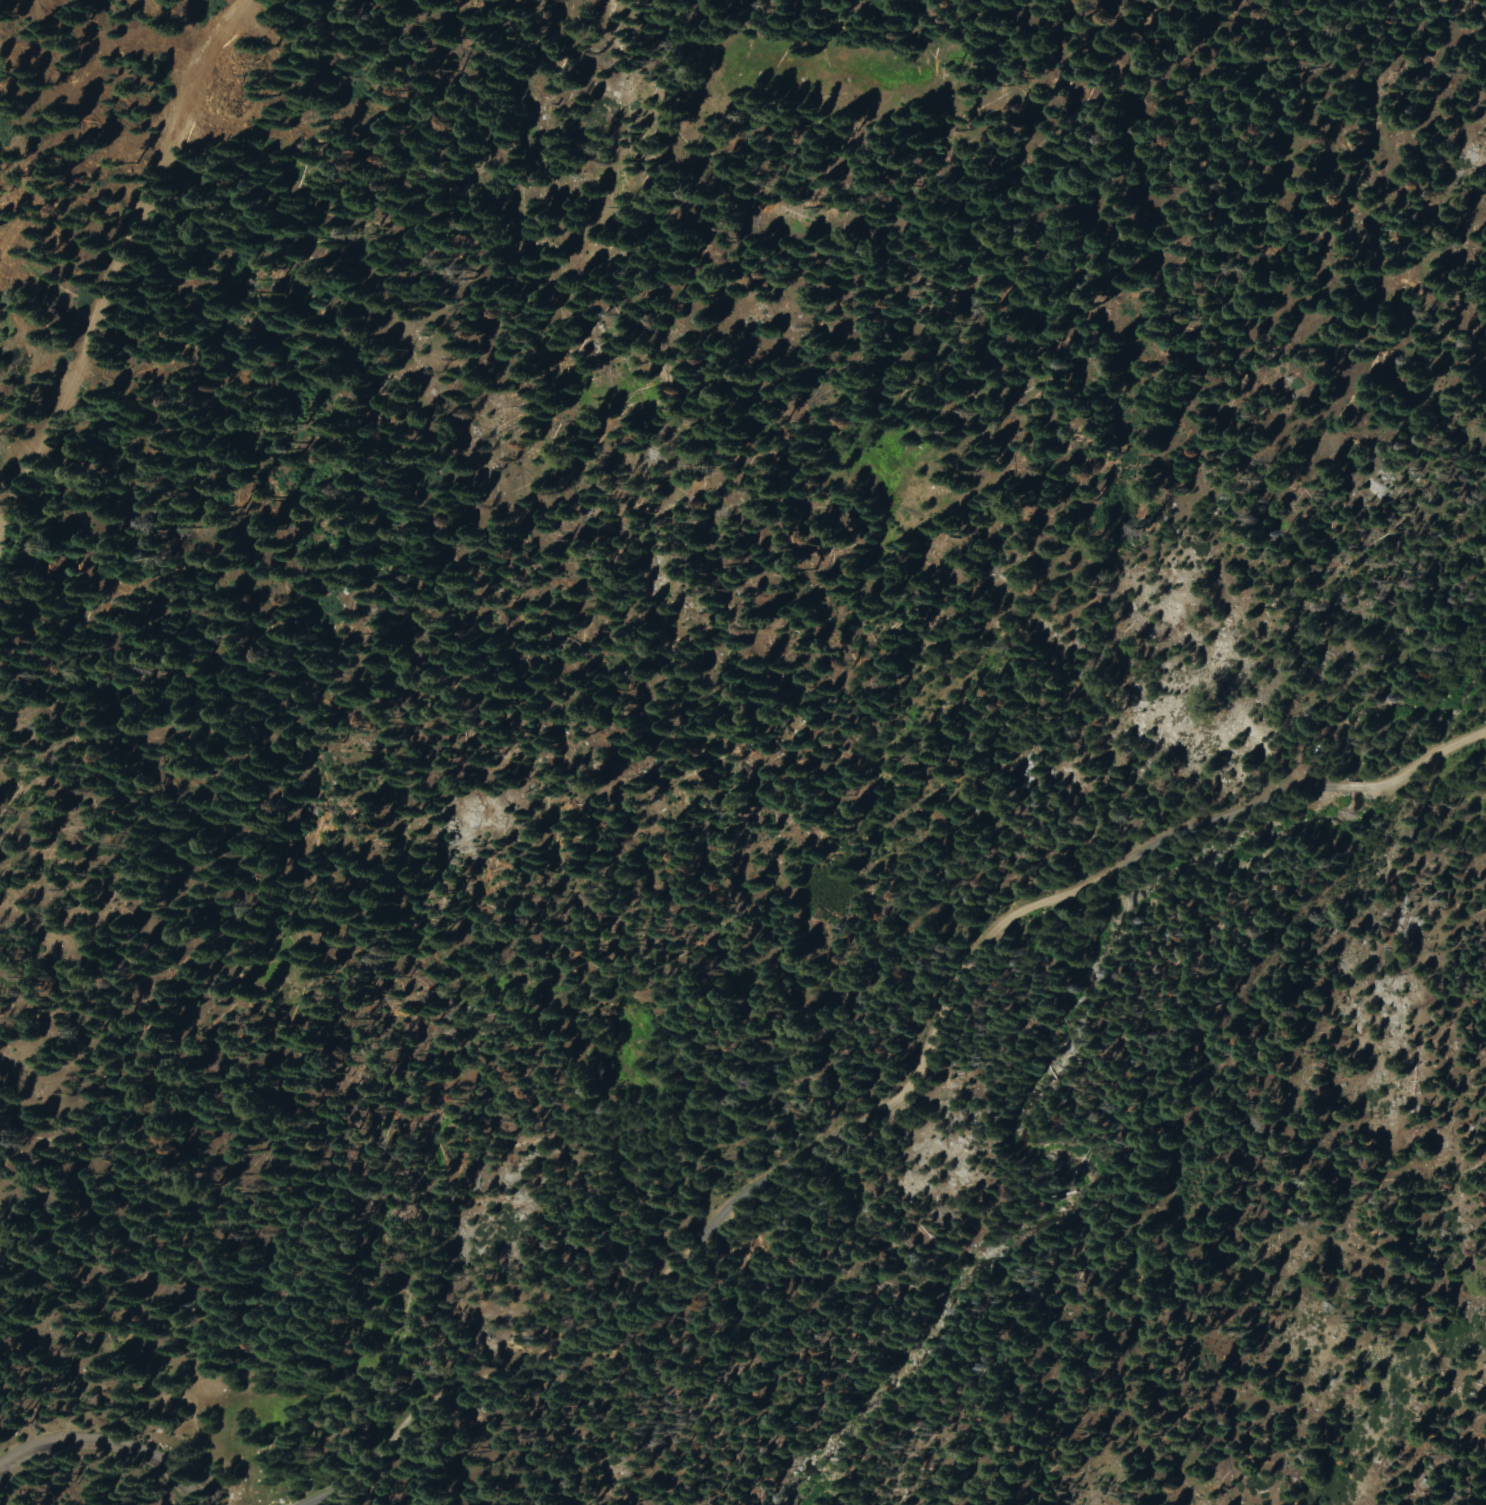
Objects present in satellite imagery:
road: (119, 262)
road: (900, 1095)
road: (107, 1442)

